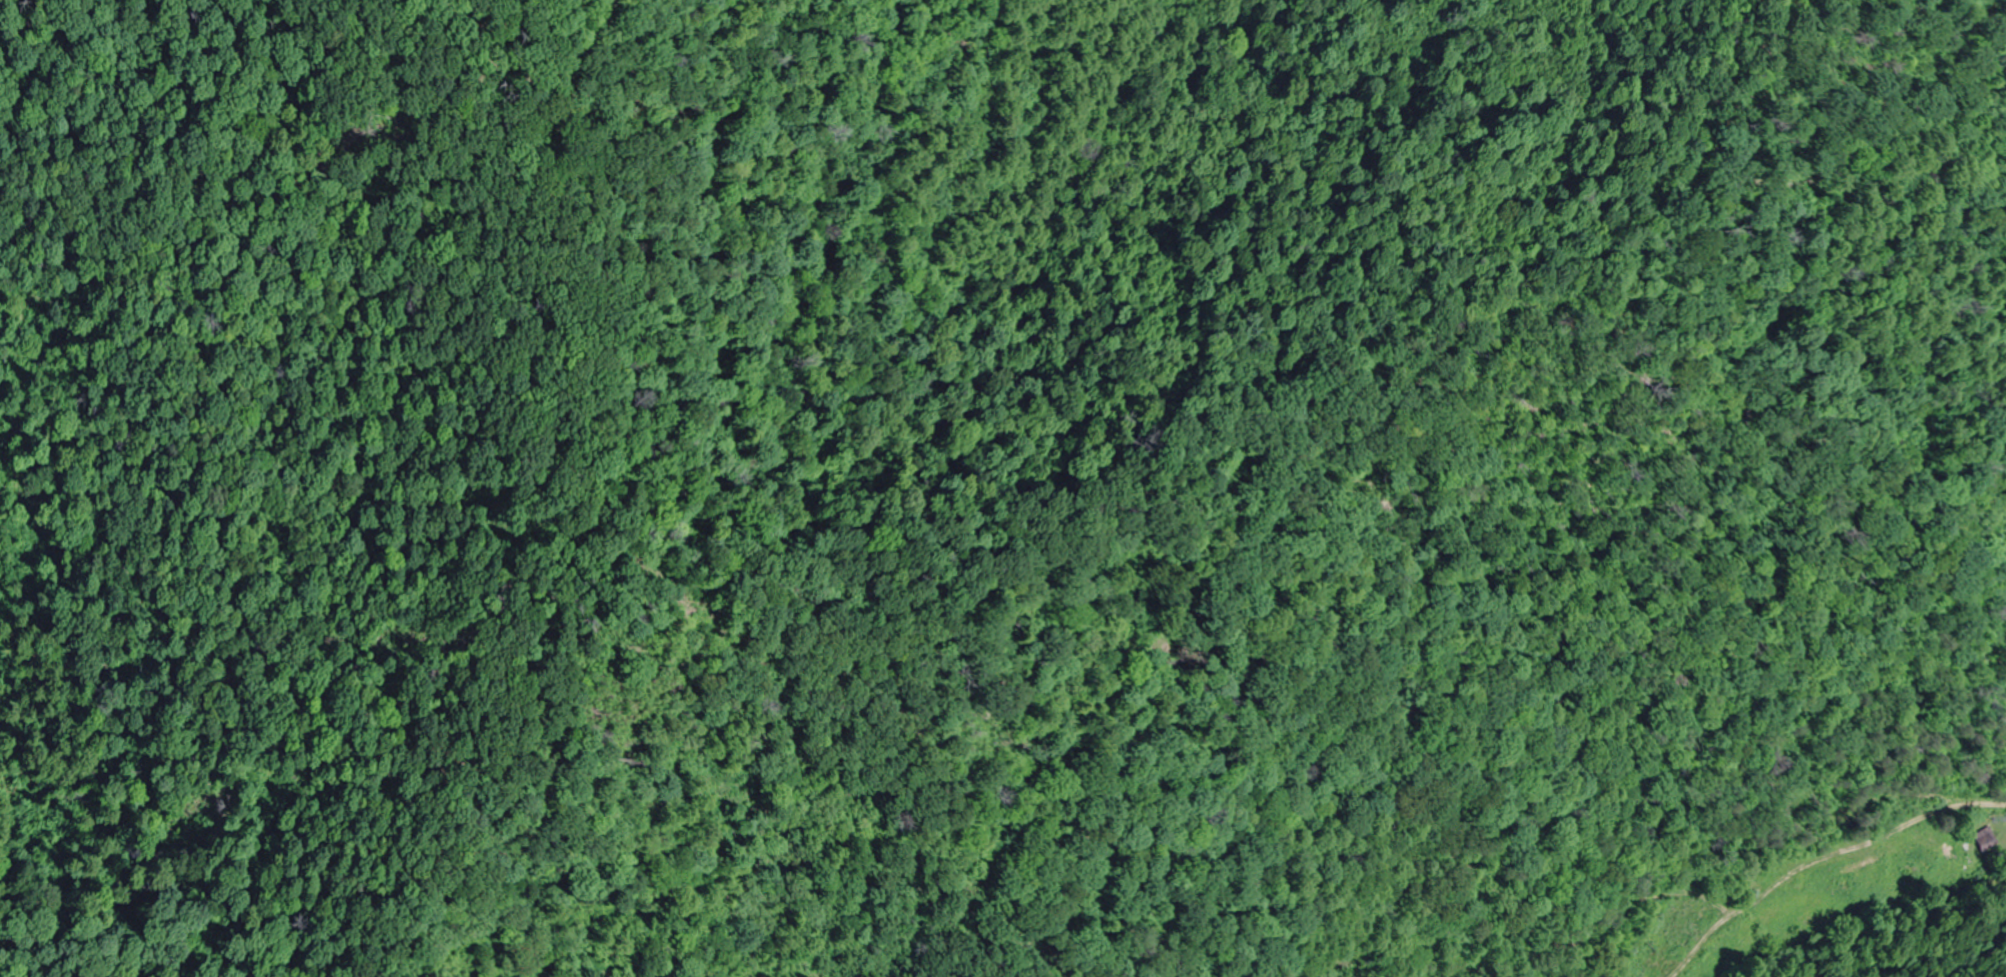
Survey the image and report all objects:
road: (1884, 817)
building: (1986, 840)

